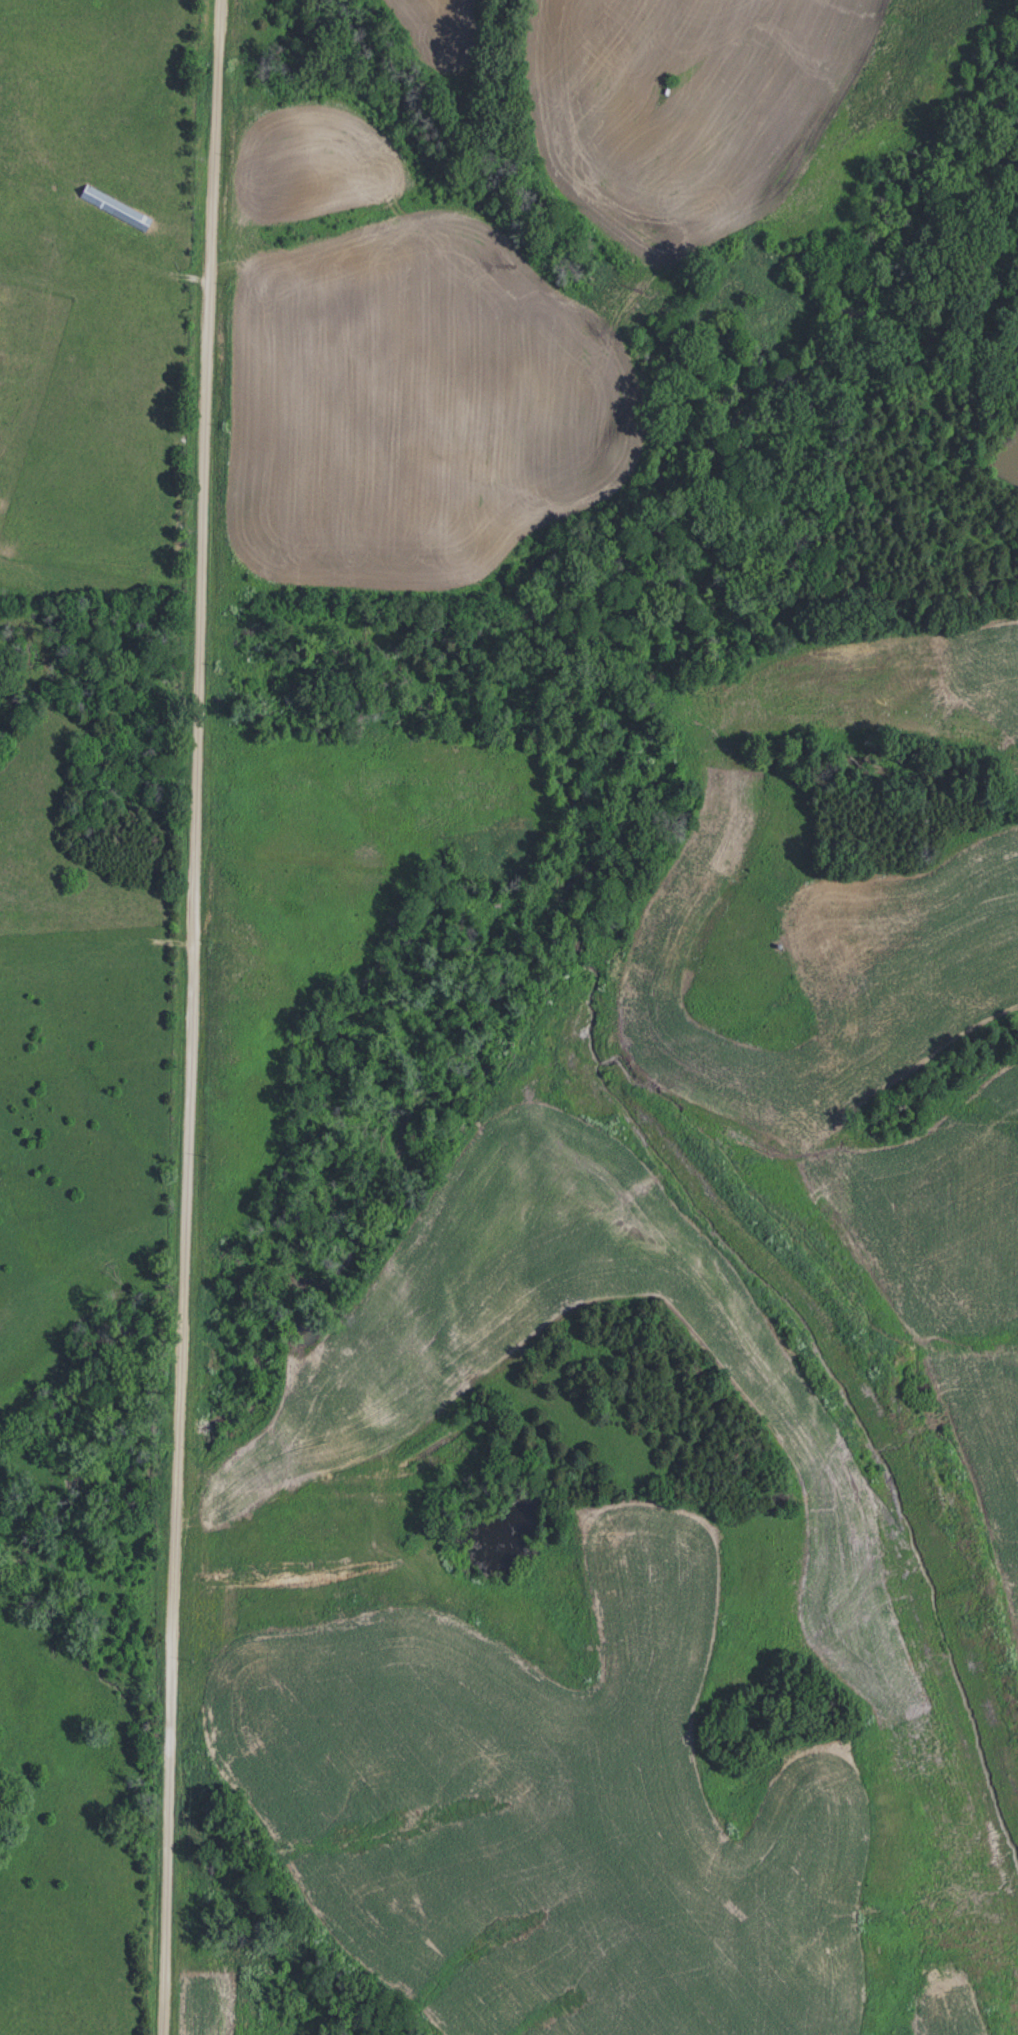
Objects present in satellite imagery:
building: (117, 208)
road: (195, 1017)

